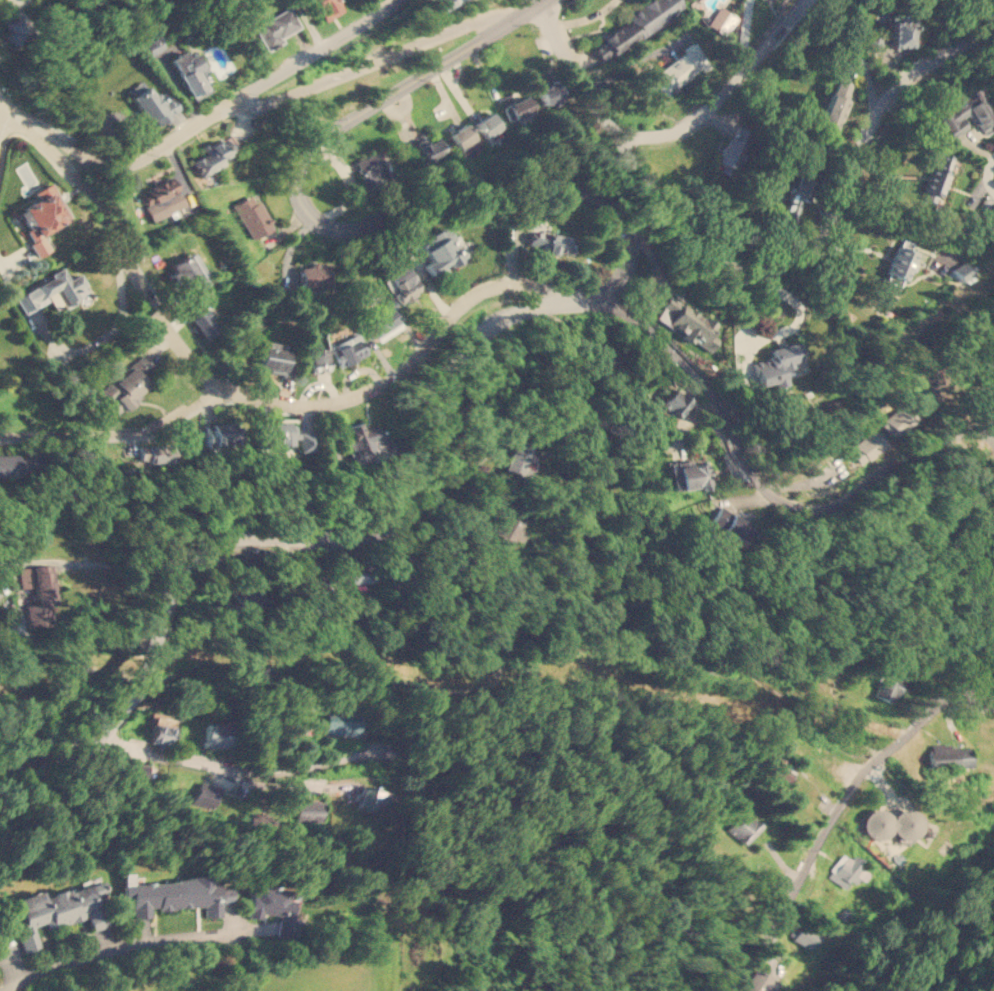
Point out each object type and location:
building: (443, 4)
building: (327, 7)
building: (722, 20)
building: (17, 22)
building: (277, 27)
building: (633, 27)
building: (899, 32)
road: (374, 61)
building: (678, 69)
building: (189, 71)
road: (724, 89)
building: (547, 90)
building: (147, 100)
building: (836, 103)
building: (517, 108)
road: (213, 114)
building: (963, 114)
building: (487, 124)
building: (465, 138)
building: (733, 144)
building: (430, 147)
building: (209, 157)
building: (375, 170)
road: (988, 174)
building: (937, 176)
building: (160, 198)
building: (792, 199)
building: (252, 214)
building: (42, 215)
road: (115, 238)
building: (550, 241)
building: (442, 250)
building: (196, 264)
building: (899, 264)
road: (758, 267)
building: (961, 272)
building: (187, 273)
building: (314, 274)
building: (403, 284)
building: (50, 291)
road: (552, 302)
building: (194, 310)
building: (380, 316)
building: (203, 320)
building: (686, 320)
road: (107, 342)
building: (348, 349)
building: (273, 354)
building: (985, 359)
building: (318, 360)
building: (778, 363)
building: (125, 385)
building: (674, 402)
road: (307, 405)
building: (896, 421)
building: (219, 433)
building: (278, 433)
building: (863, 448)
building: (153, 453)
building: (516, 456)
building: (18, 463)
building: (688, 475)
road: (758, 484)
building: (729, 525)
building: (508, 528)
road: (976, 529)
building: (496, 541)
building: (357, 573)
building: (36, 592)
road: (985, 611)
building: (888, 685)
park: (54, 701)
building: (343, 725)
building: (162, 730)
building: (217, 735)
building: (948, 757)
building: (779, 768)
building: (137, 770)
road: (223, 771)
road: (848, 790)
building: (207, 794)
building: (370, 798)
building: (309, 810)
building: (889, 823)
building: (176, 893)
building: (275, 907)
building: (60, 908)
building: (802, 935)
road: (132, 947)
building: (757, 982)

